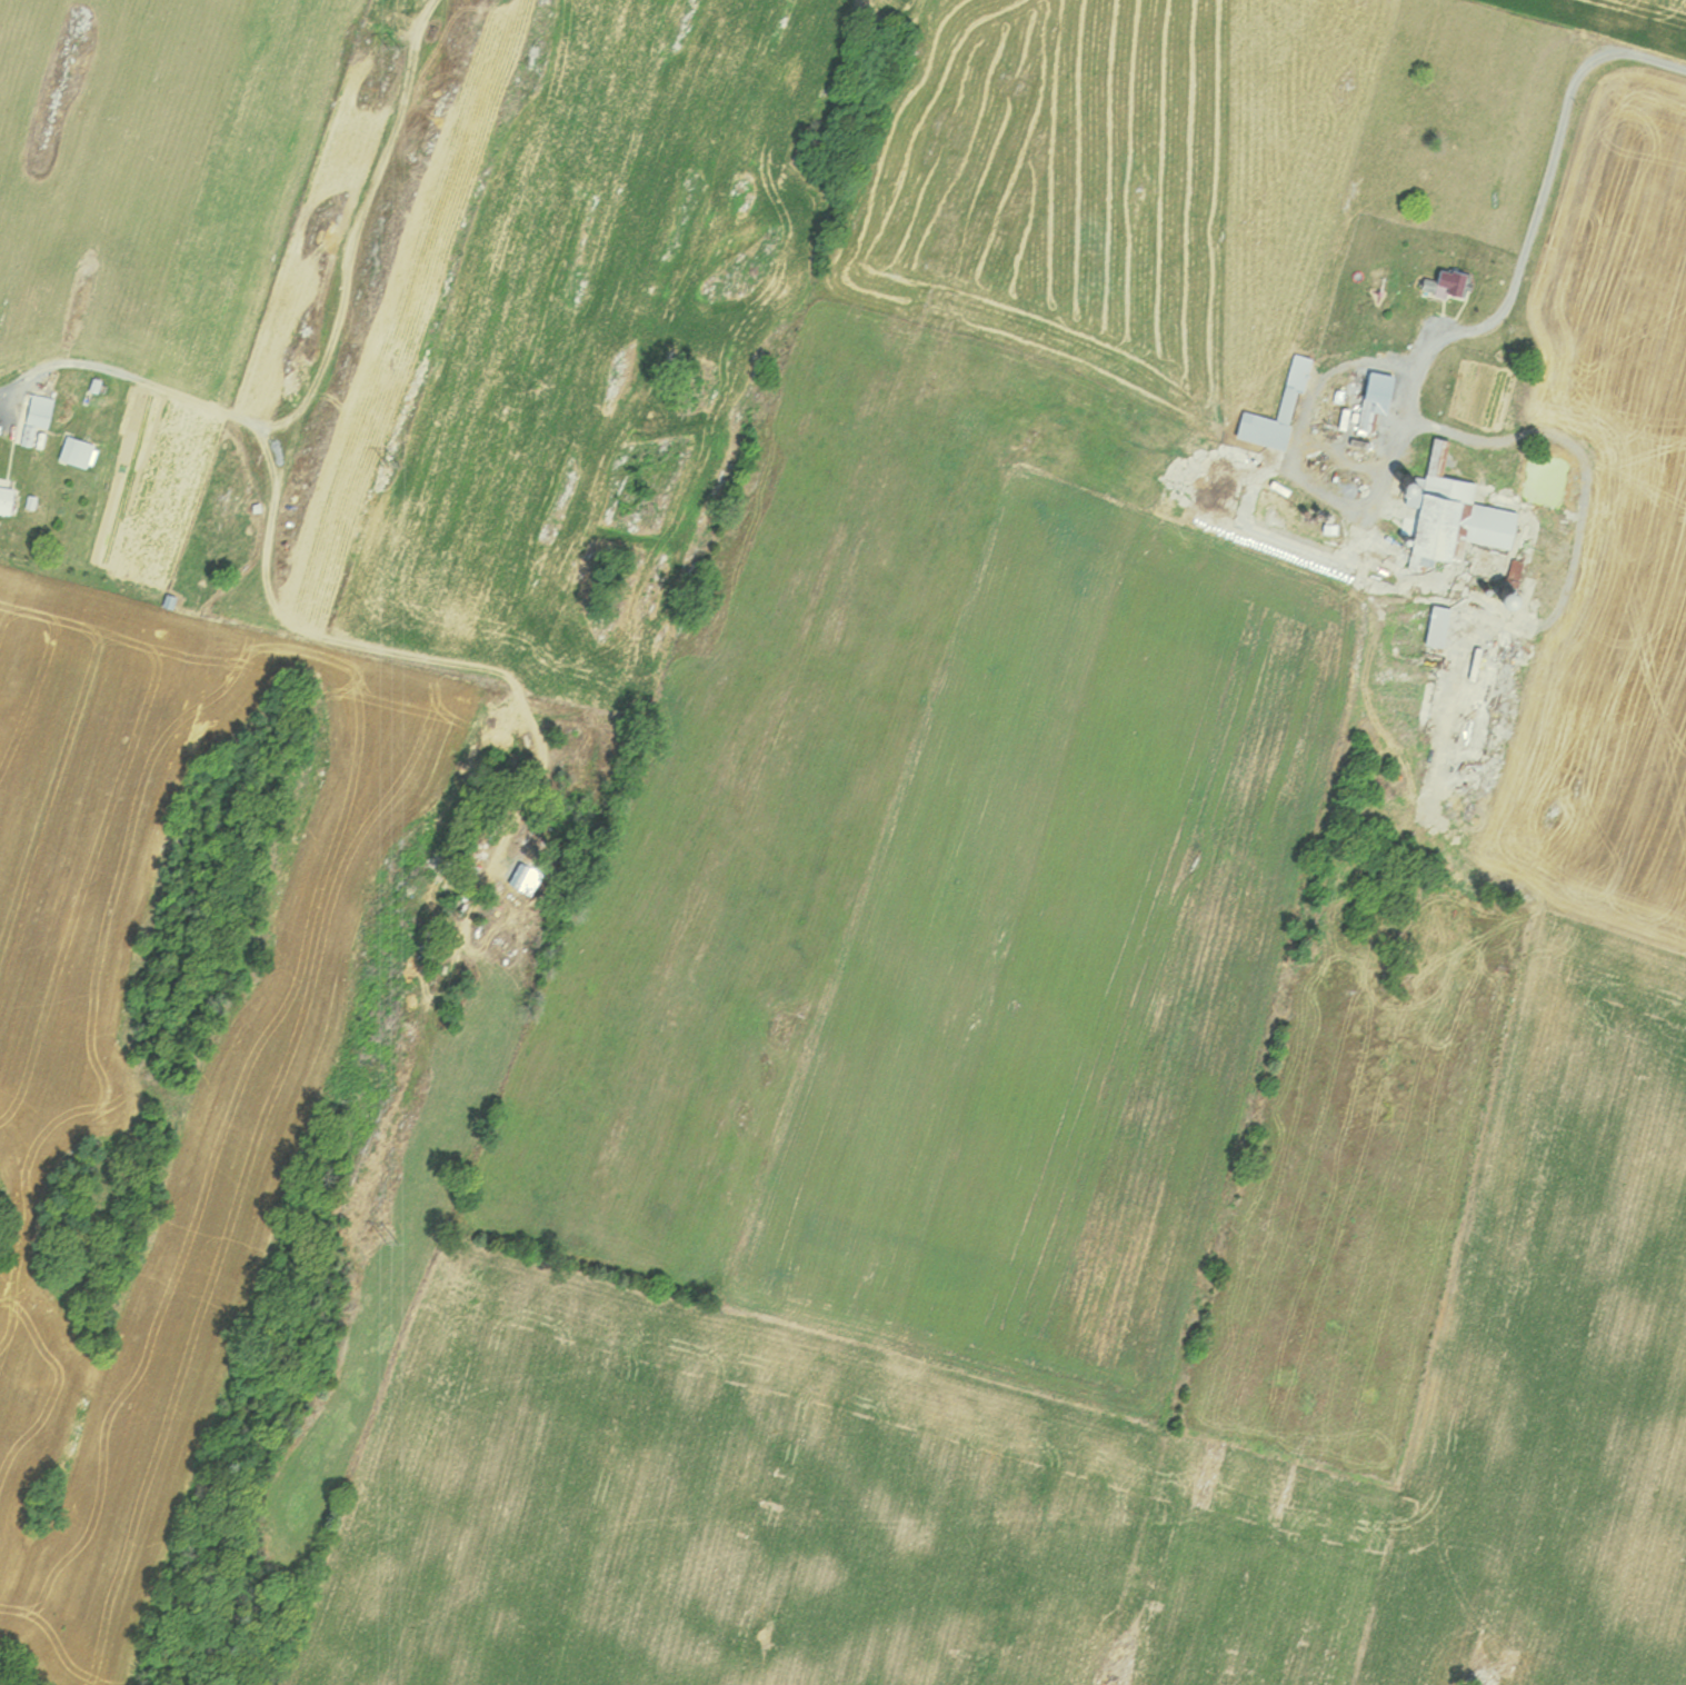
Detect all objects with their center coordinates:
power tower: (390, 42)
road: (1497, 218)
building: (1440, 286)
building: (1287, 385)
building: (1366, 402)
building: (43, 419)
building: (83, 450)
power tower: (389, 460)
building: (11, 498)
building: (1443, 516)
building: (1427, 627)
power tower: (387, 1235)

